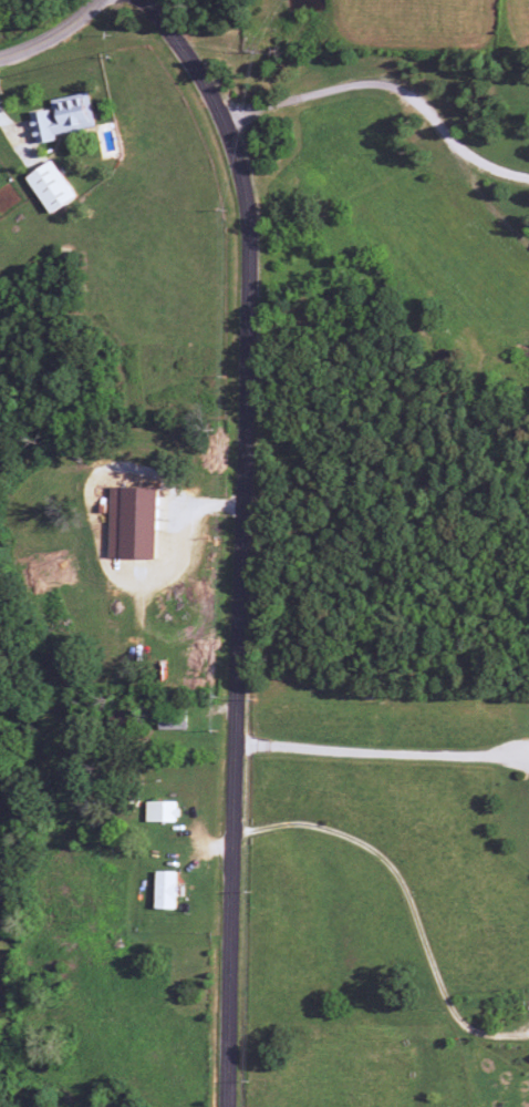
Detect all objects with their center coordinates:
road: (50, 34)
road: (207, 34)
road: (388, 89)
building: (63, 117)
building: (51, 187)
building: (133, 523)
road: (241, 537)
building: (172, 722)
road: (382, 754)
building: (160, 811)
building: (165, 890)
road: (253, 1096)

